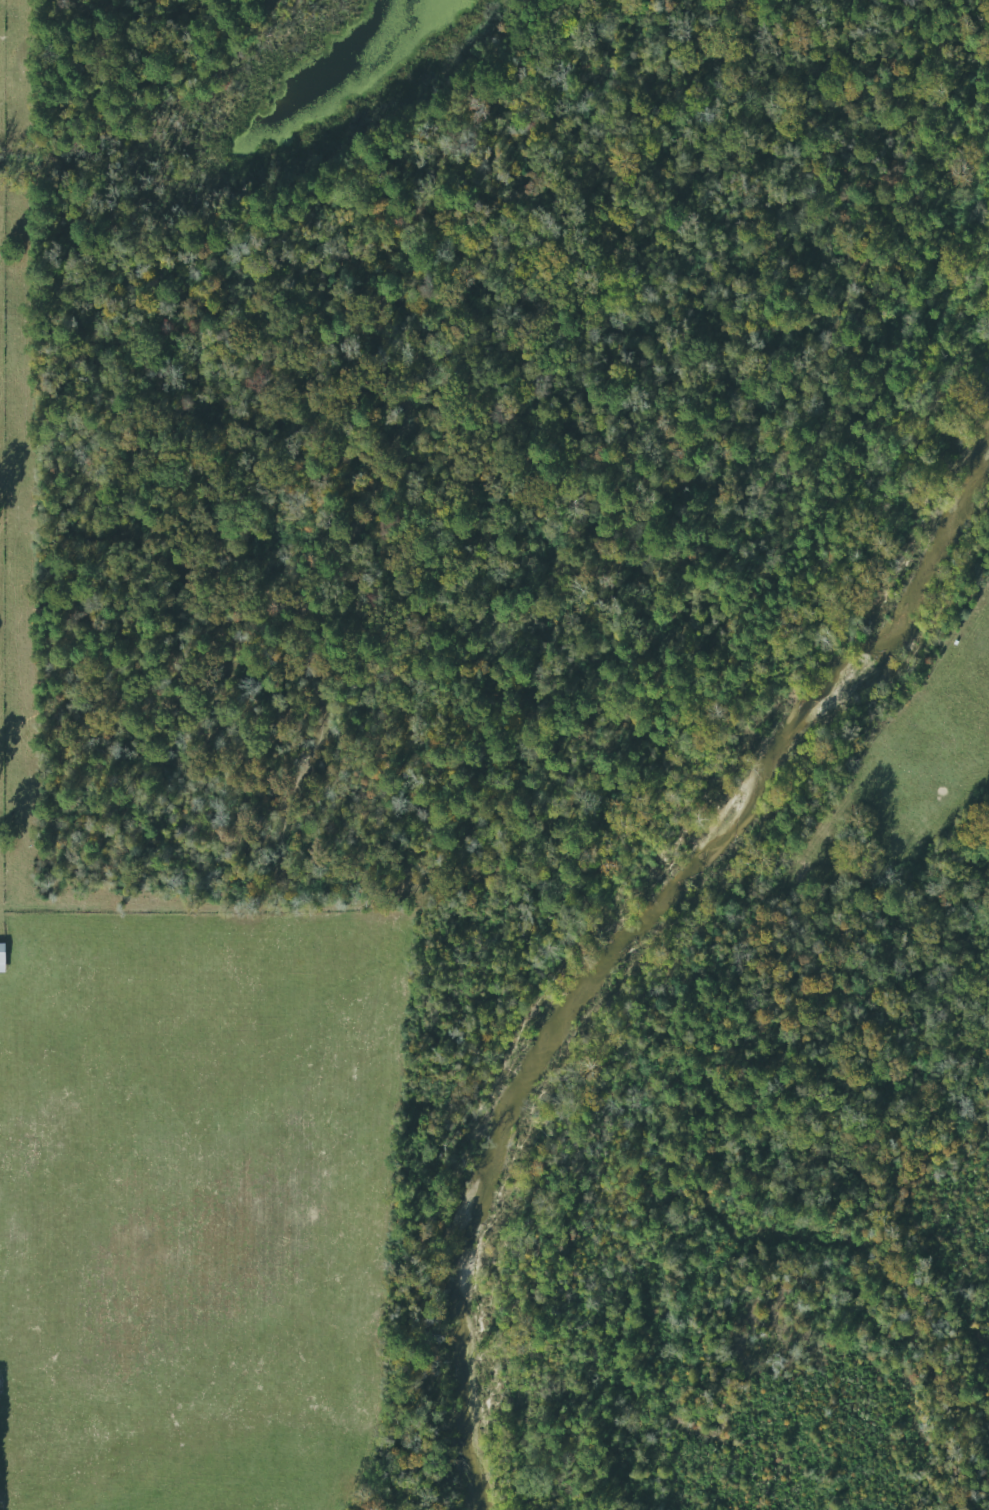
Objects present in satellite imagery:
building: (3, 959)

